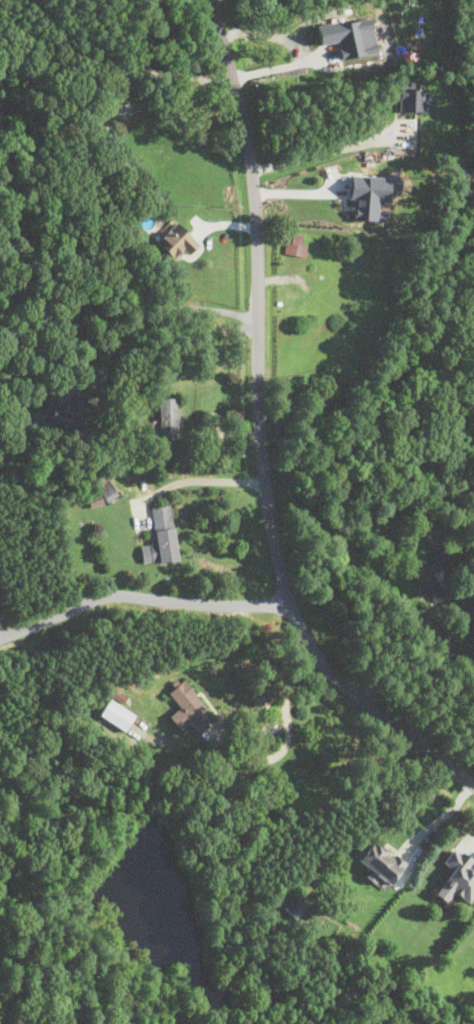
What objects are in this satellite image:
road: (210, 0)
building: (351, 36)
road: (278, 67)
road: (163, 72)
building: (414, 98)
road: (322, 151)
building: (371, 194)
building: (176, 242)
building: (296, 248)
road: (129, 314)
road: (102, 362)
building: (63, 413)
building: (168, 418)
road: (259, 431)
road: (200, 480)
building: (106, 488)
building: (95, 500)
building: (161, 537)
road: (141, 596)
building: (119, 694)
building: (189, 707)
building: (117, 714)
road: (225, 739)
road: (438, 819)
building: (380, 863)
building: (458, 876)

